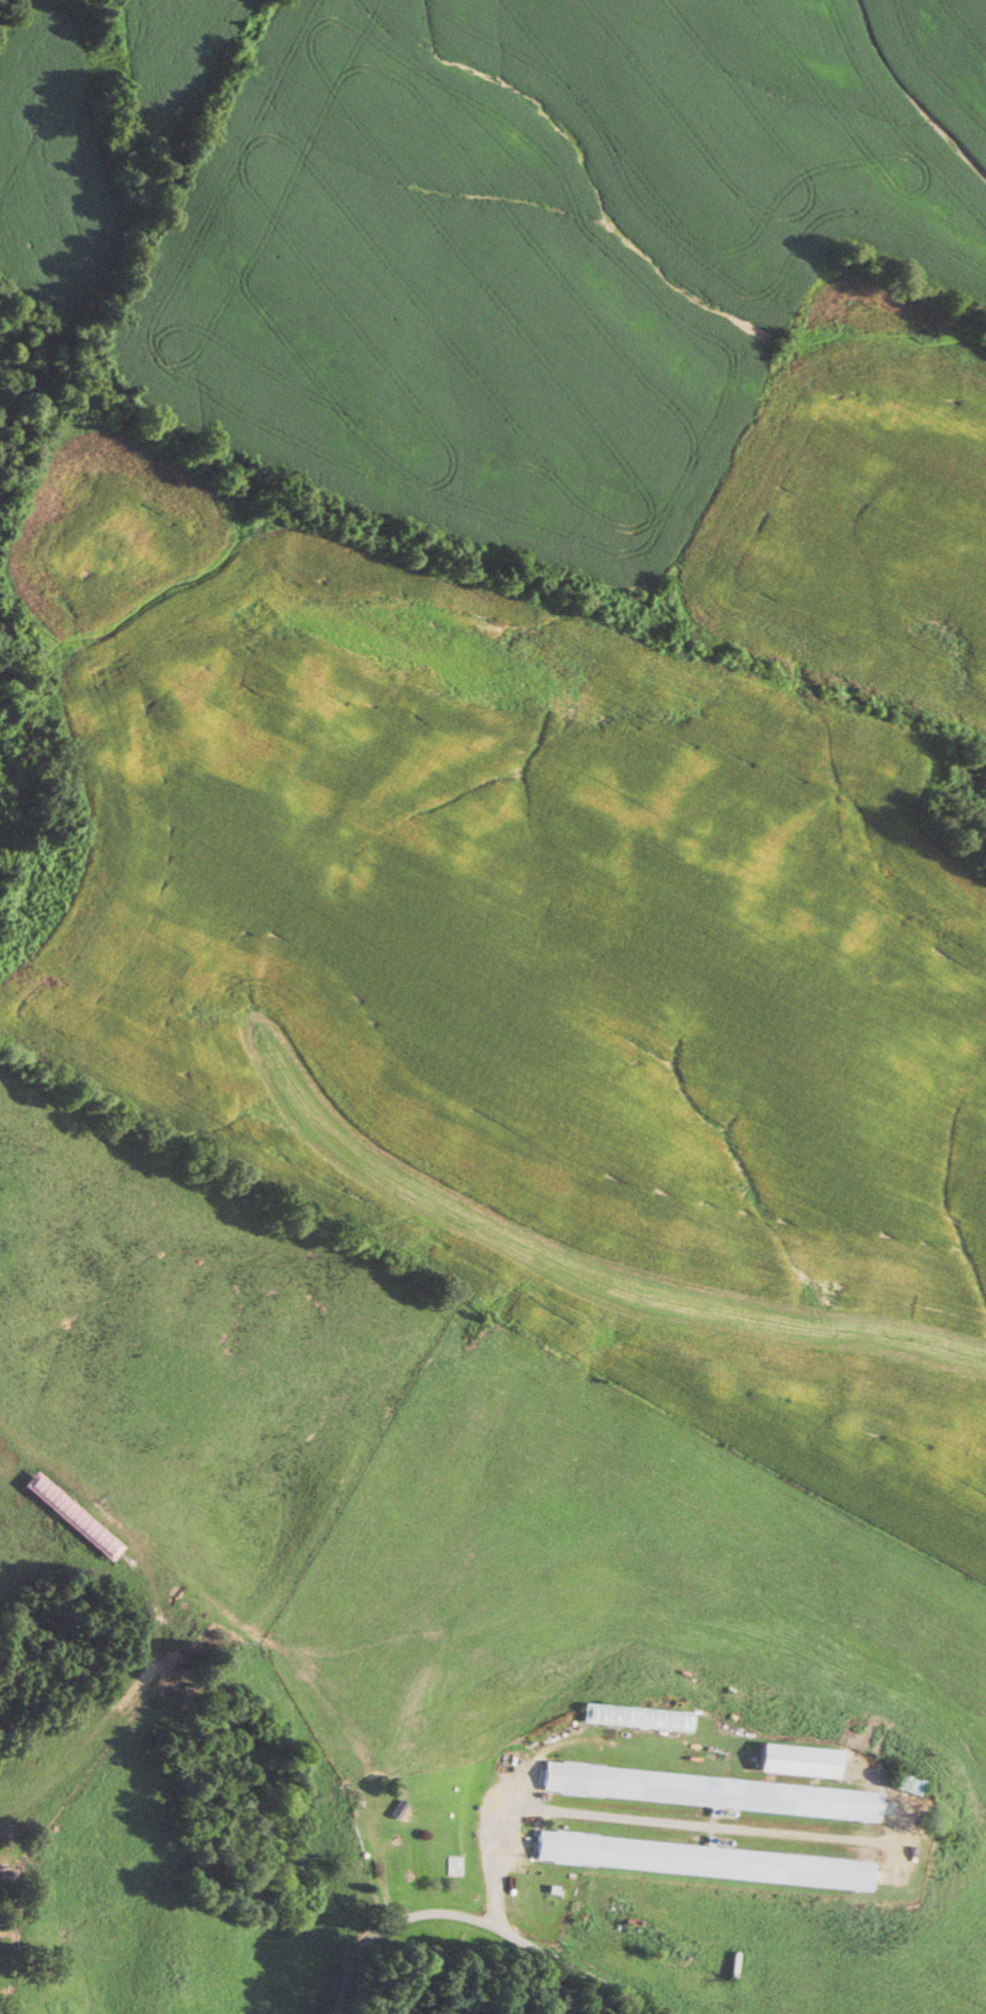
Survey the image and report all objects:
building: (635, 1719)
building: (793, 1762)
building: (709, 1793)
building: (696, 1861)
road: (483, 1920)

